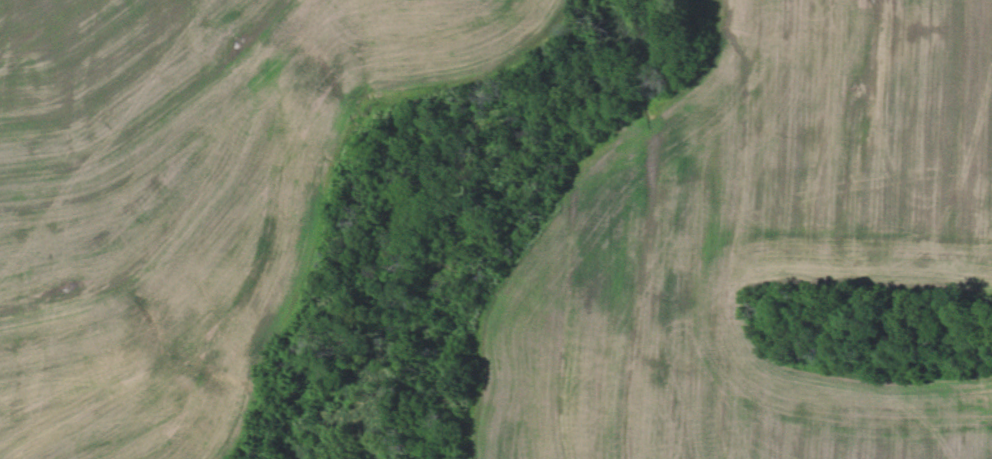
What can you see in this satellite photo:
crop: (190, 194)
crop: (756, 249)

